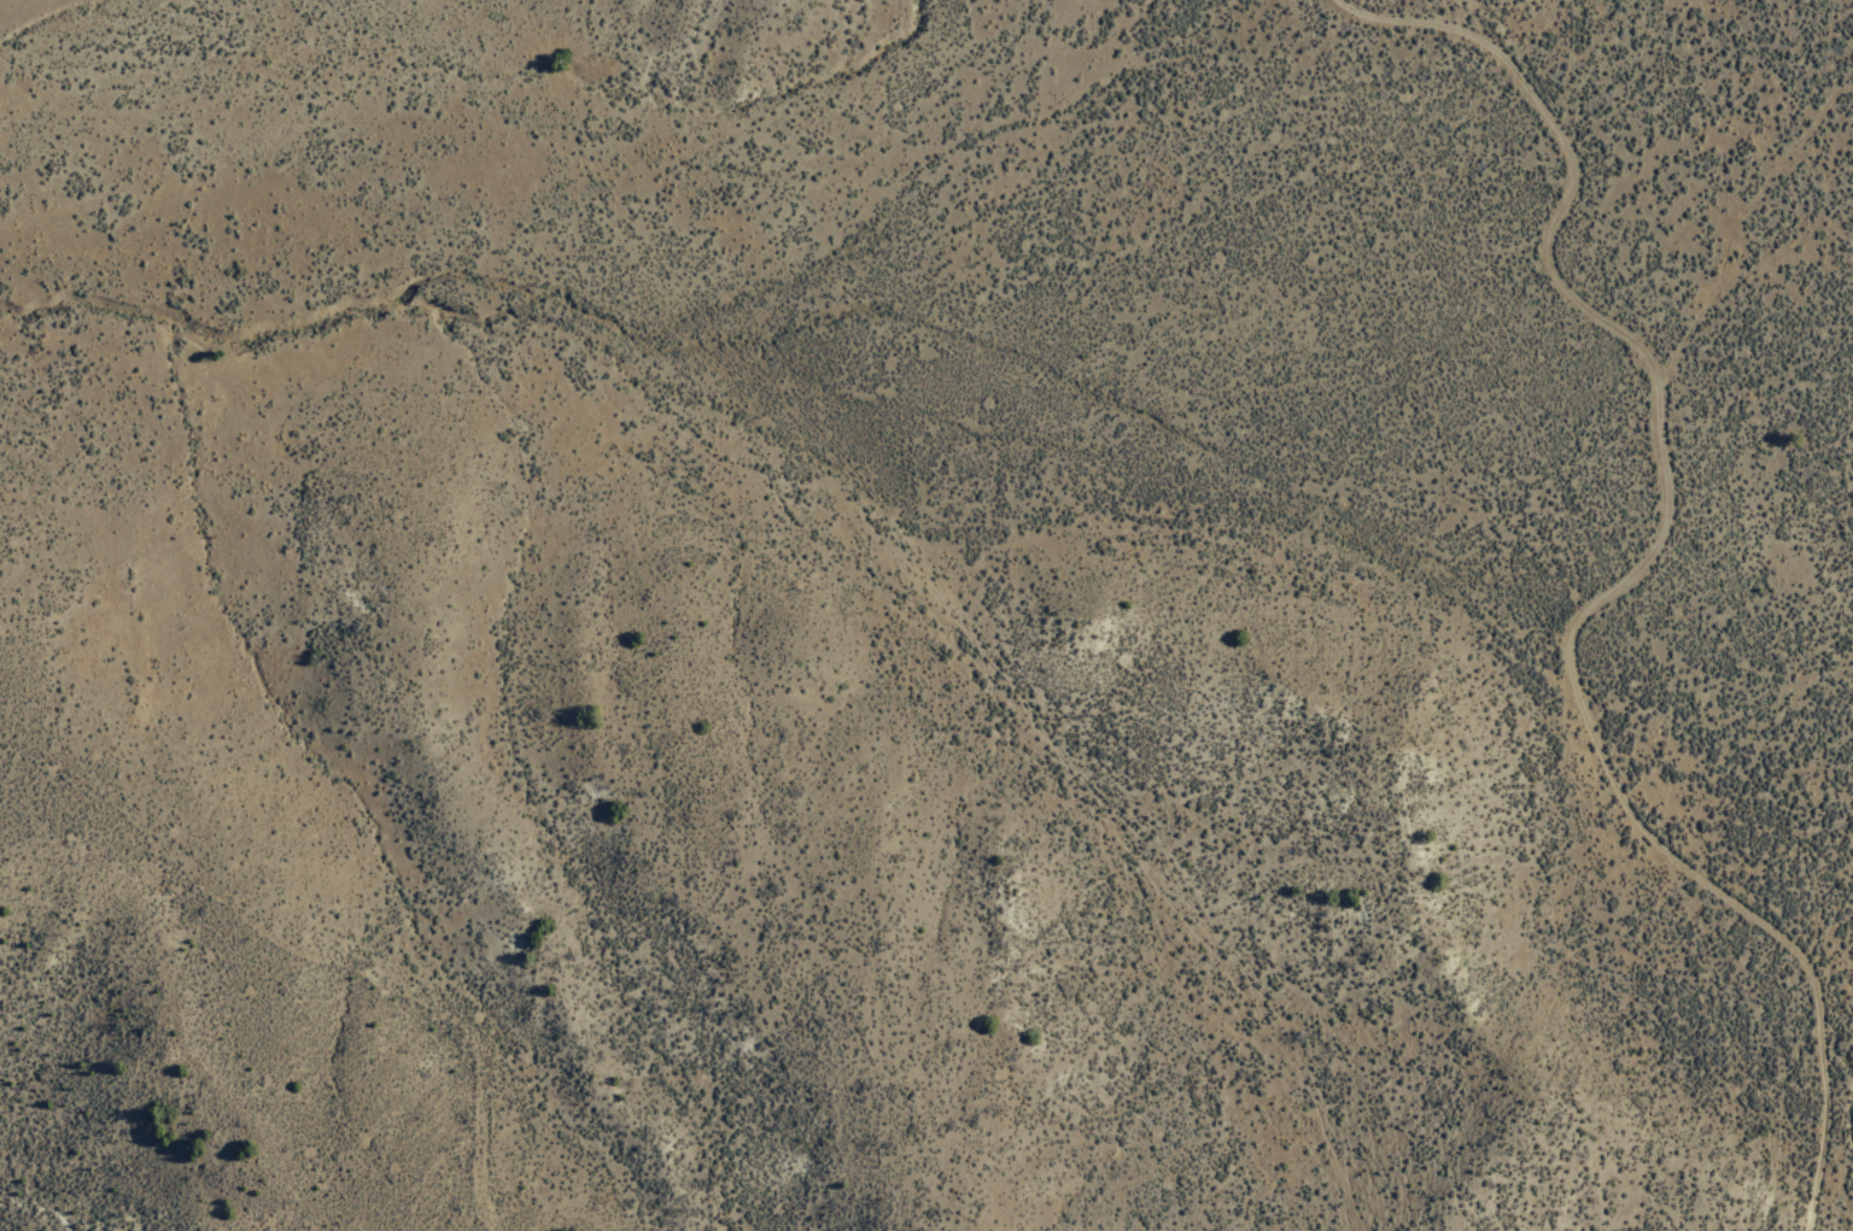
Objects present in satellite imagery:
road: (1623, 578)

